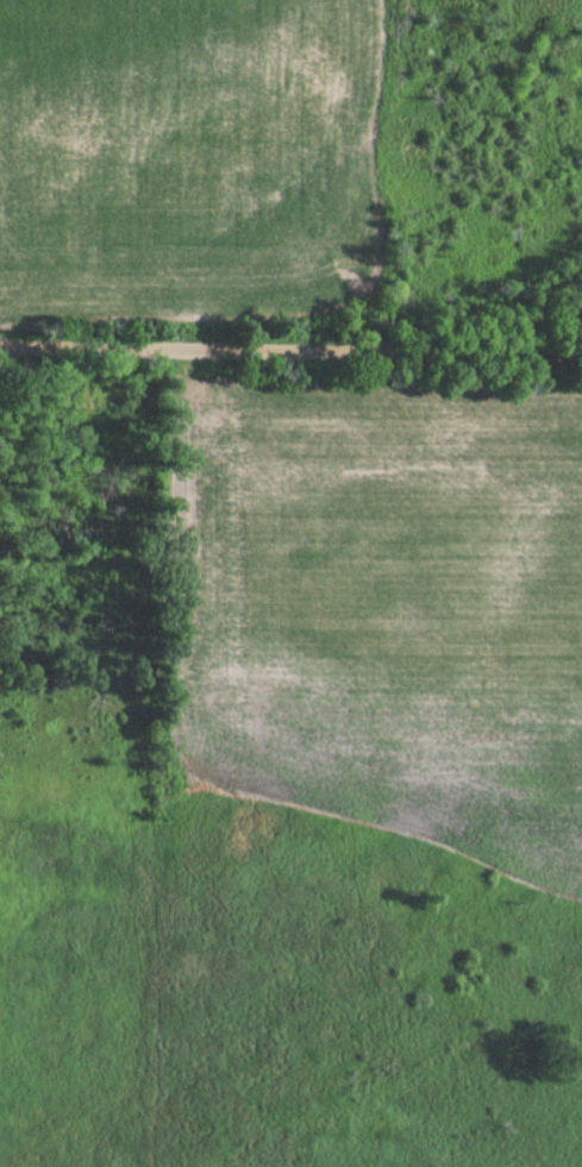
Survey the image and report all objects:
road: (290, 353)

